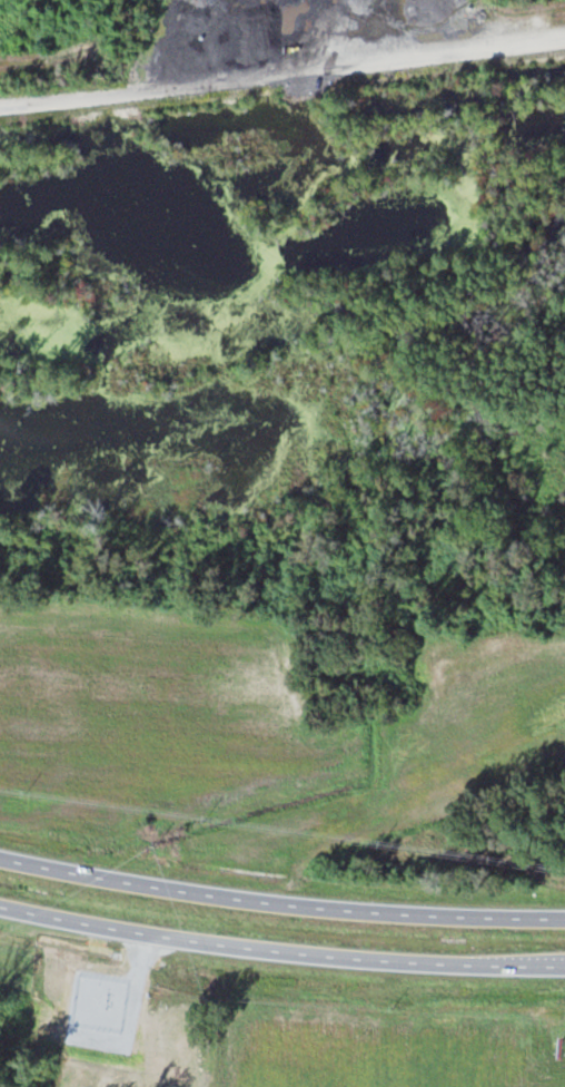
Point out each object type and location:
road: (282, 74)
railway: (282, 84)
road: (472, 596)
road: (280, 902)
road: (234, 944)
road: (518, 964)
building: (158, 1027)

